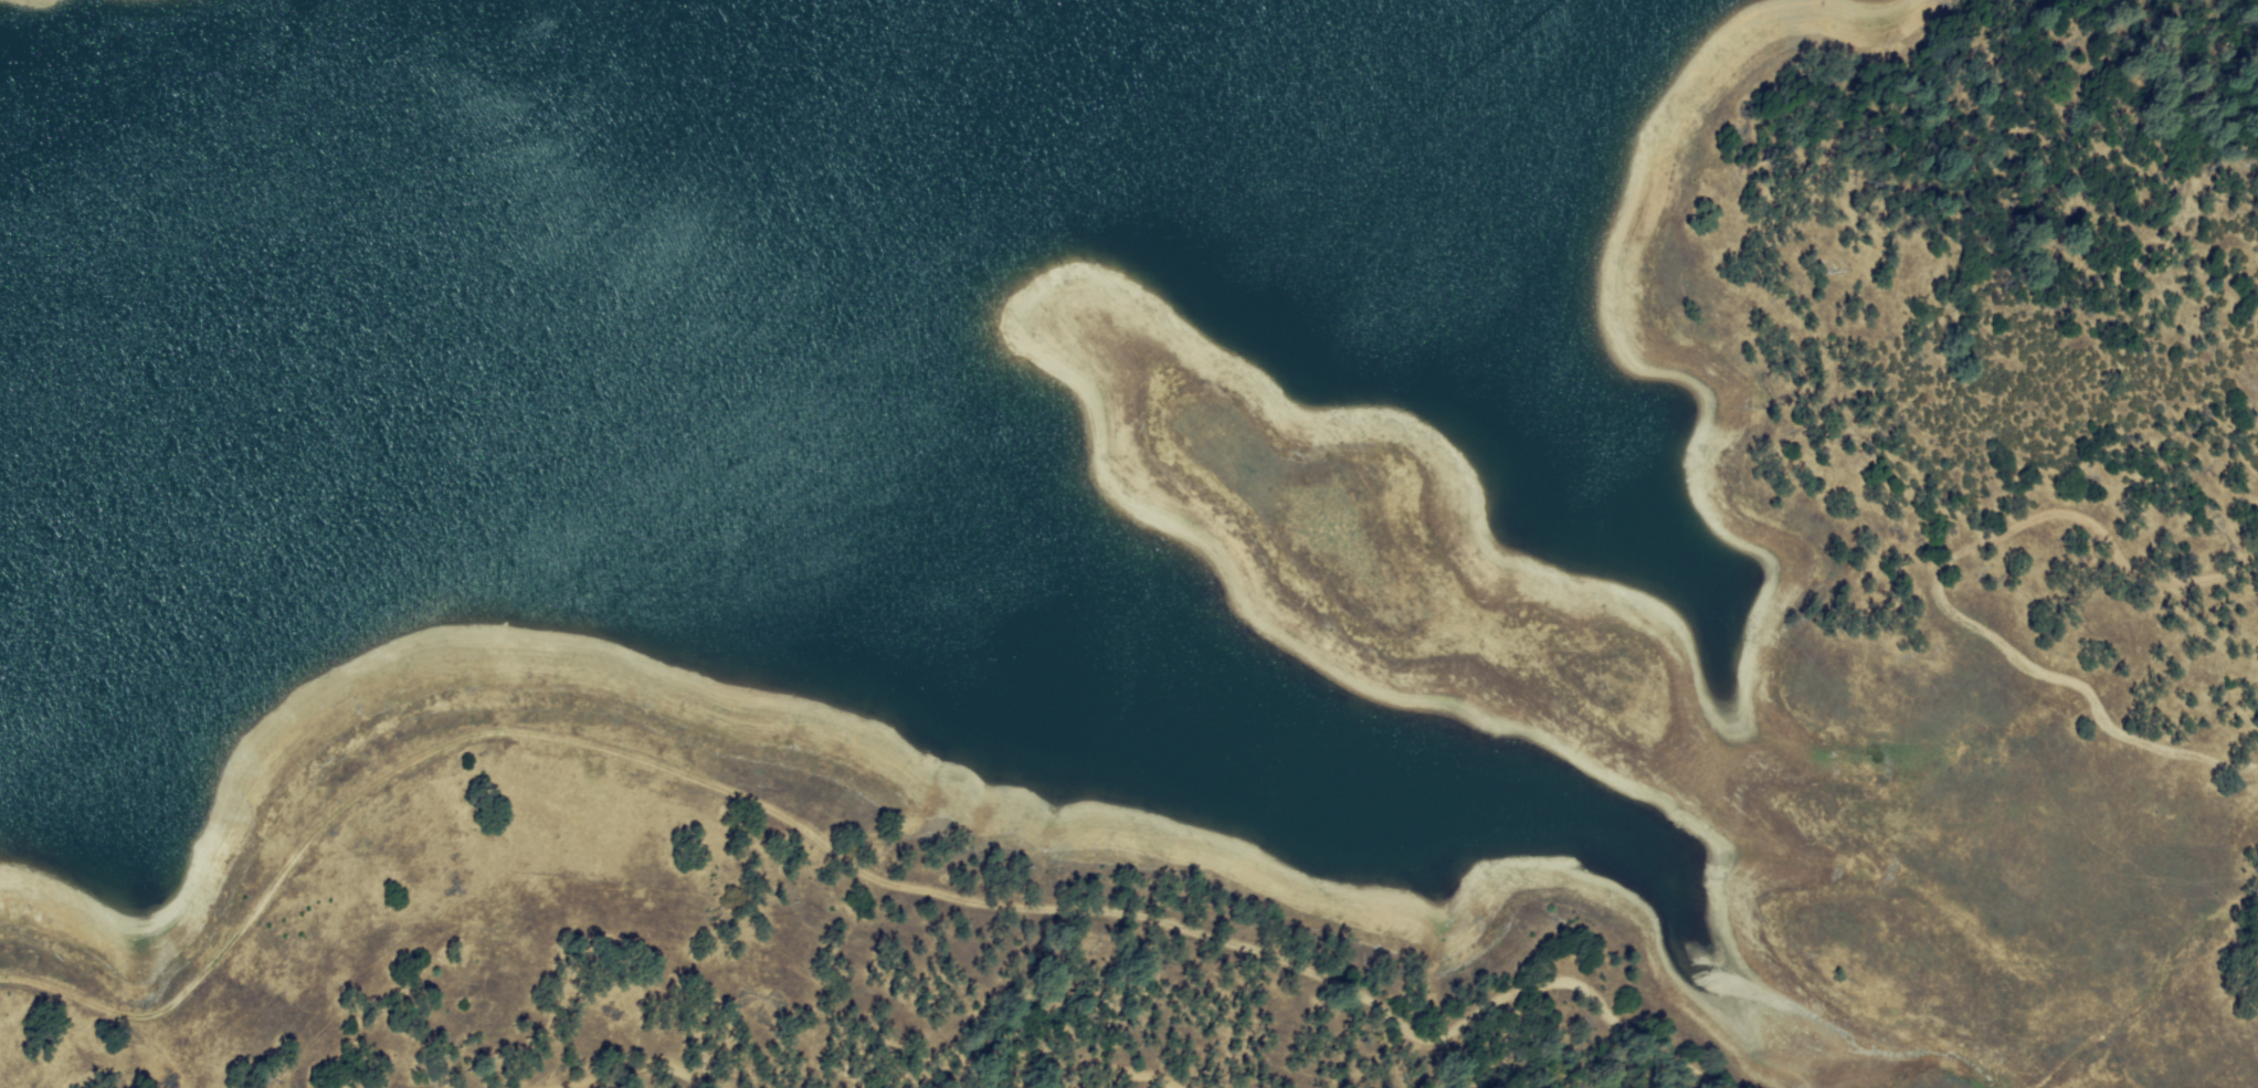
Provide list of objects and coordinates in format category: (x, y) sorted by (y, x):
river: (1042, 54)
river: (829, 92)
river: (734, 108)
river: (249, 122)
river: (594, 161)

